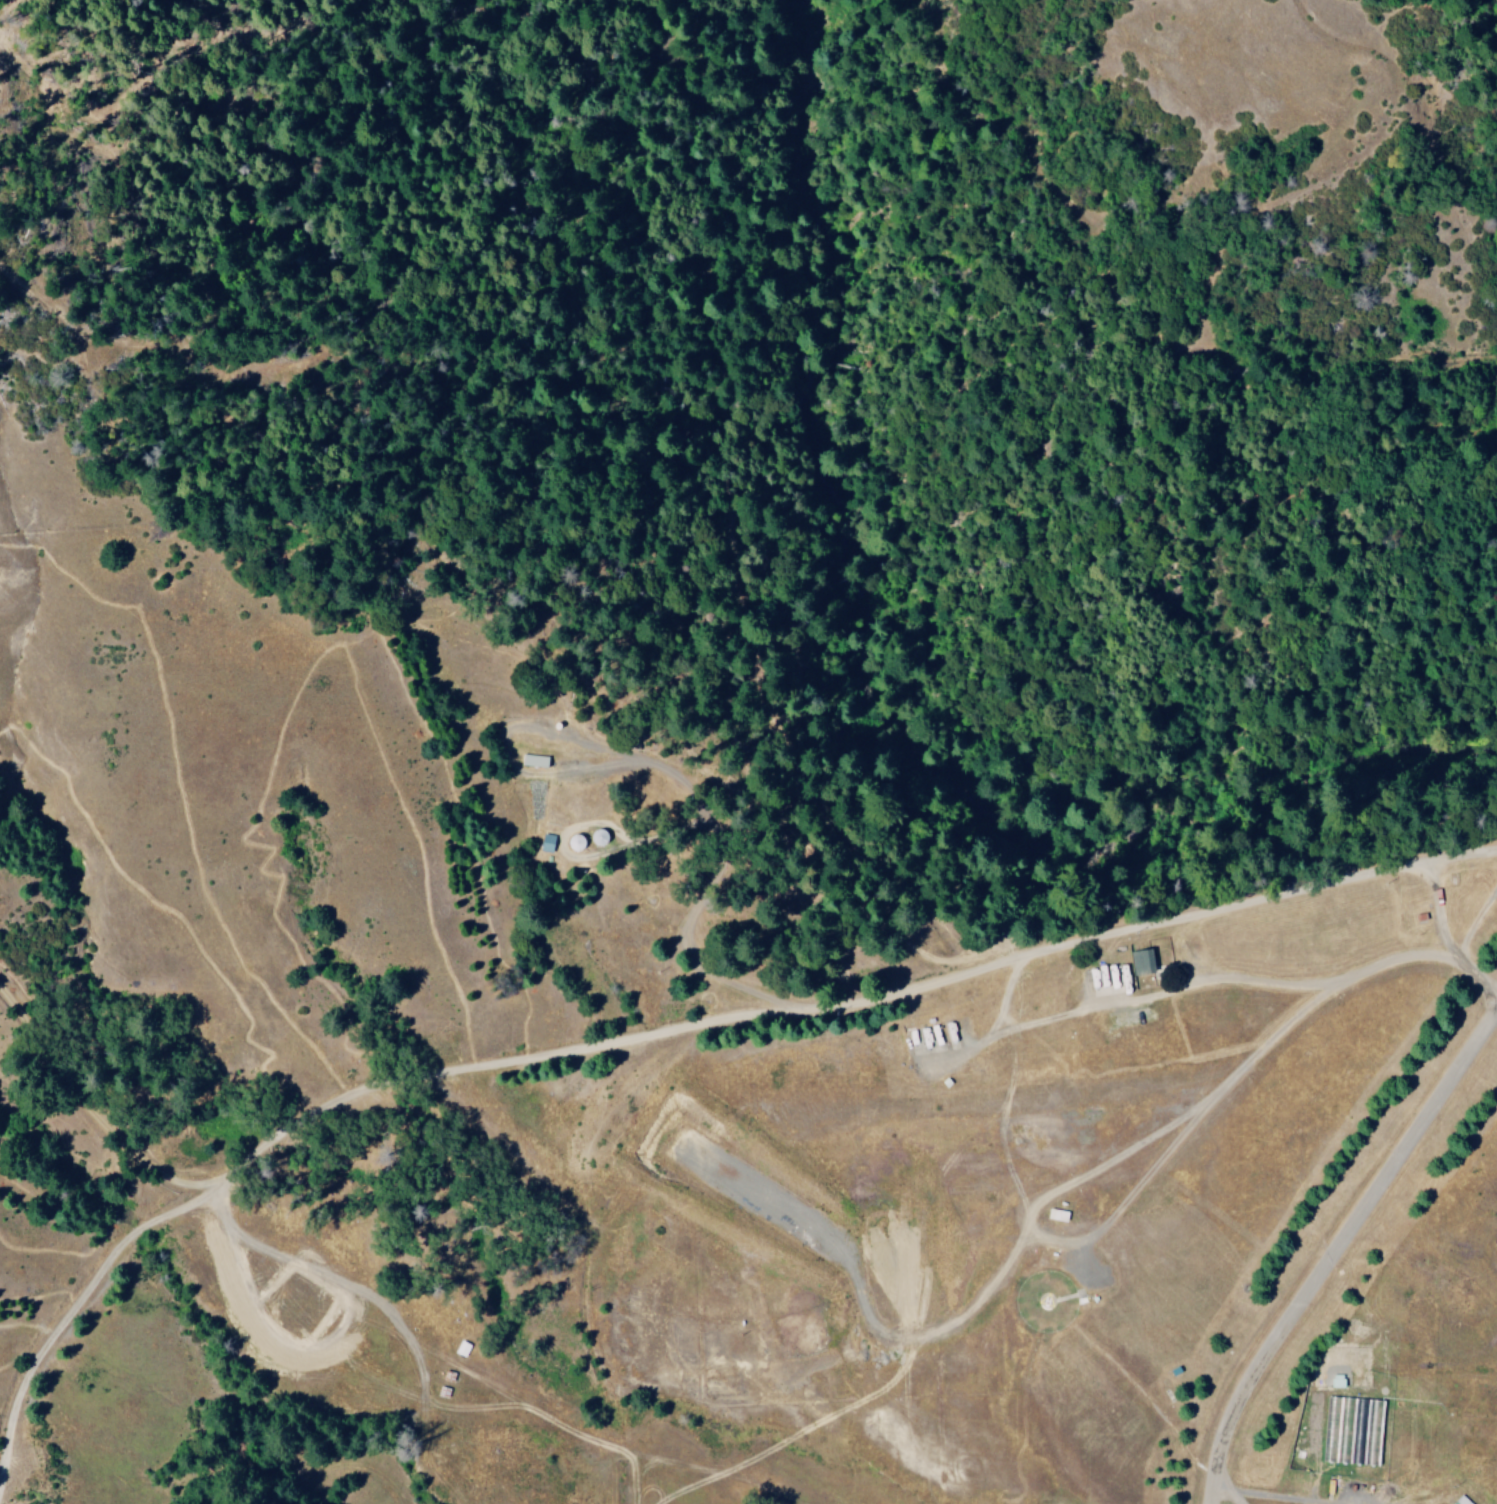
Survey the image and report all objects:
building: (538, 760)
building: (550, 842)
road: (1041, 956)
building: (1139, 962)
road: (1454, 989)
road: (375, 1107)
road: (1331, 1254)
building: (1460, 1500)

